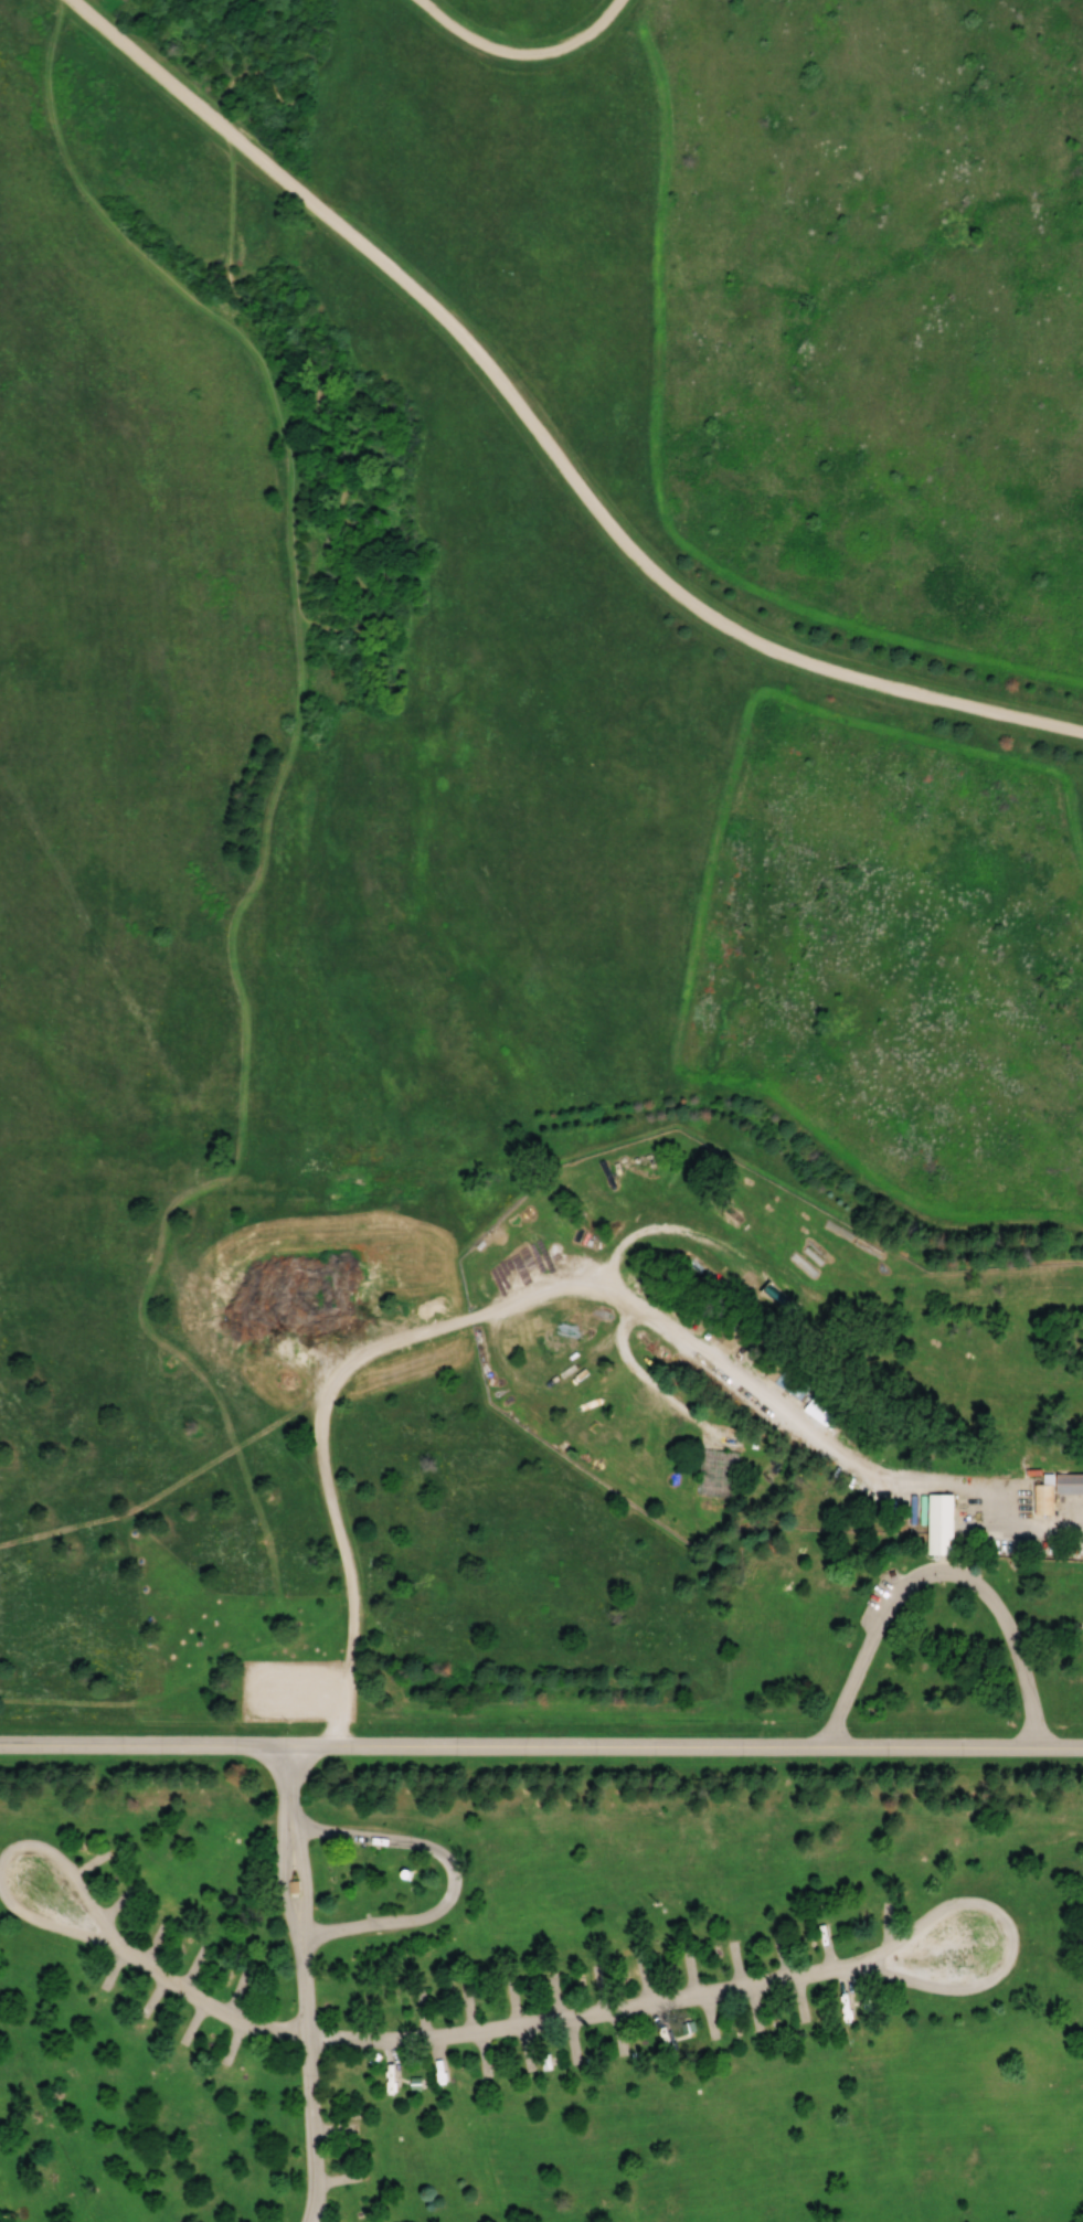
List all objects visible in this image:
road: (521, 53)
road: (540, 435)
road: (348, 626)
park: (541, 1110)
road: (224, 1172)
building: (725, 1336)
building: (716, 1474)
building: (1069, 1484)
building: (1042, 1498)
building: (939, 1523)
road: (936, 1574)
parking lot: (297, 1691)
road: (160, 1697)
road: (328, 1734)
road: (541, 1748)
road: (146, 1816)
road: (687, 1819)
road: (66, 1867)
road: (454, 1877)
building: (290, 1886)
road: (47, 1926)
road: (767, 1979)
road: (300, 1985)
road: (199, 2000)
road: (1080, 2216)

